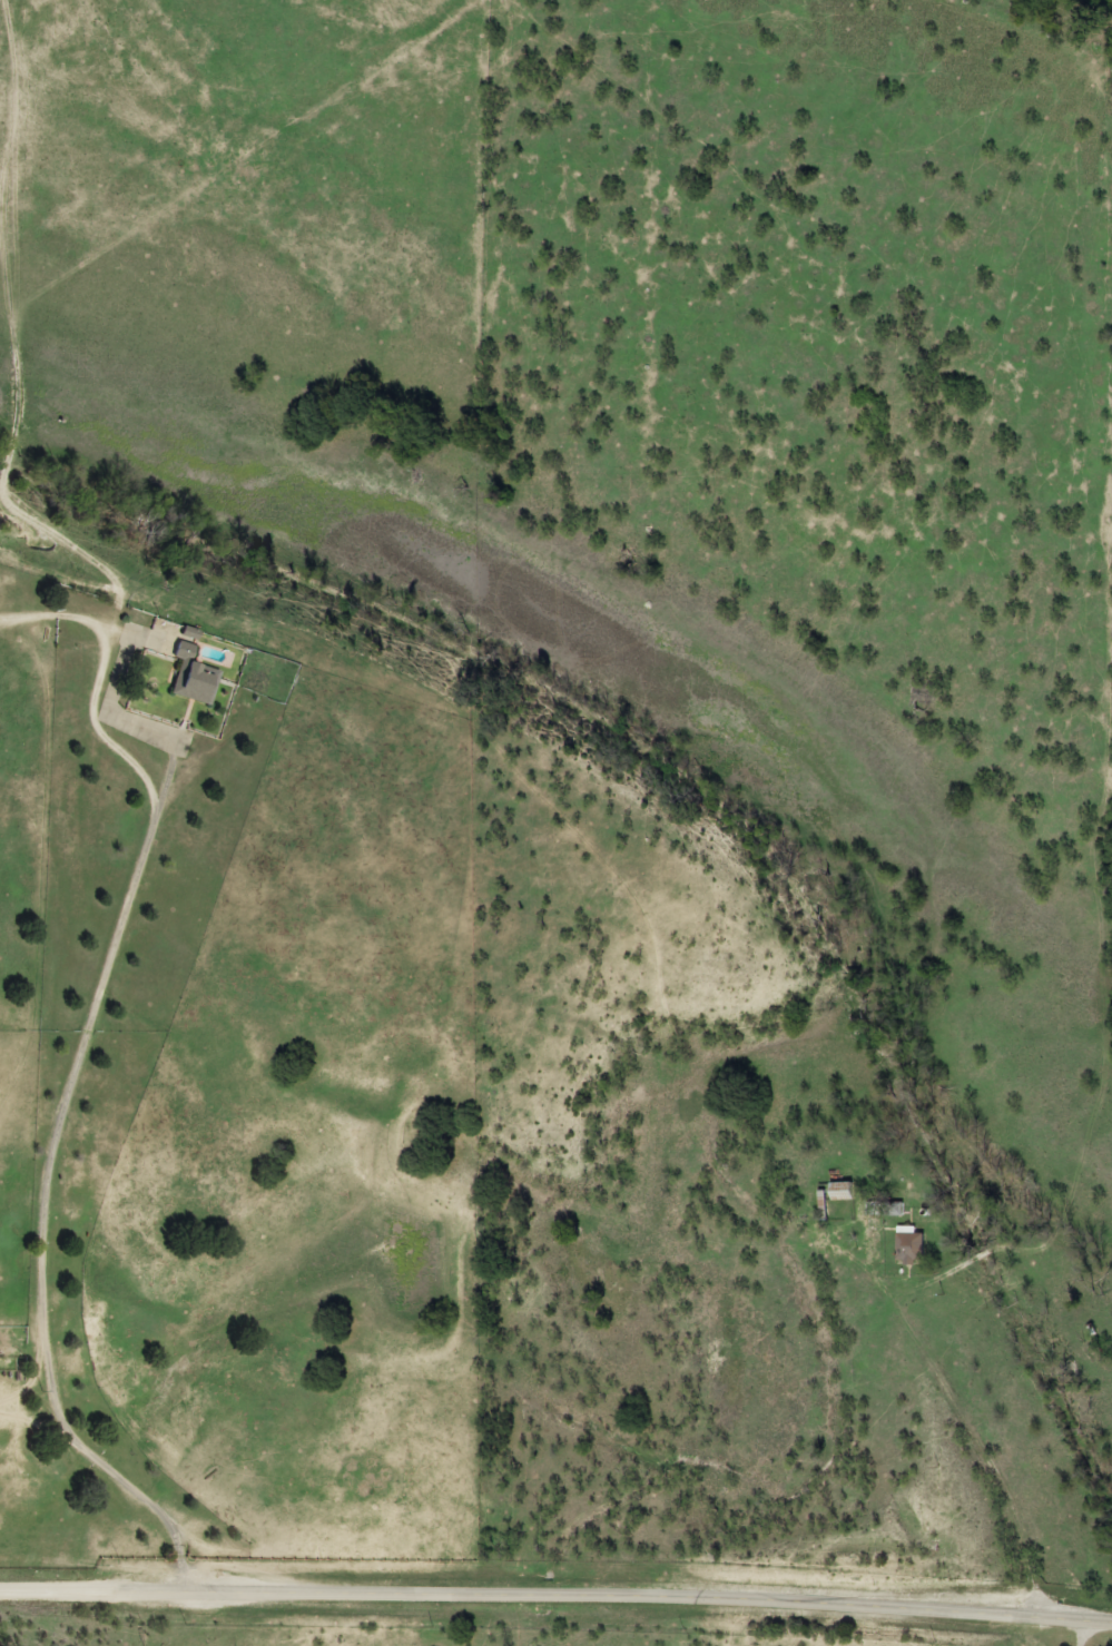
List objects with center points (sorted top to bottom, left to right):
building: (191, 674)
building: (840, 1190)
building: (909, 1245)
road: (66, 1590)
road: (622, 1596)

